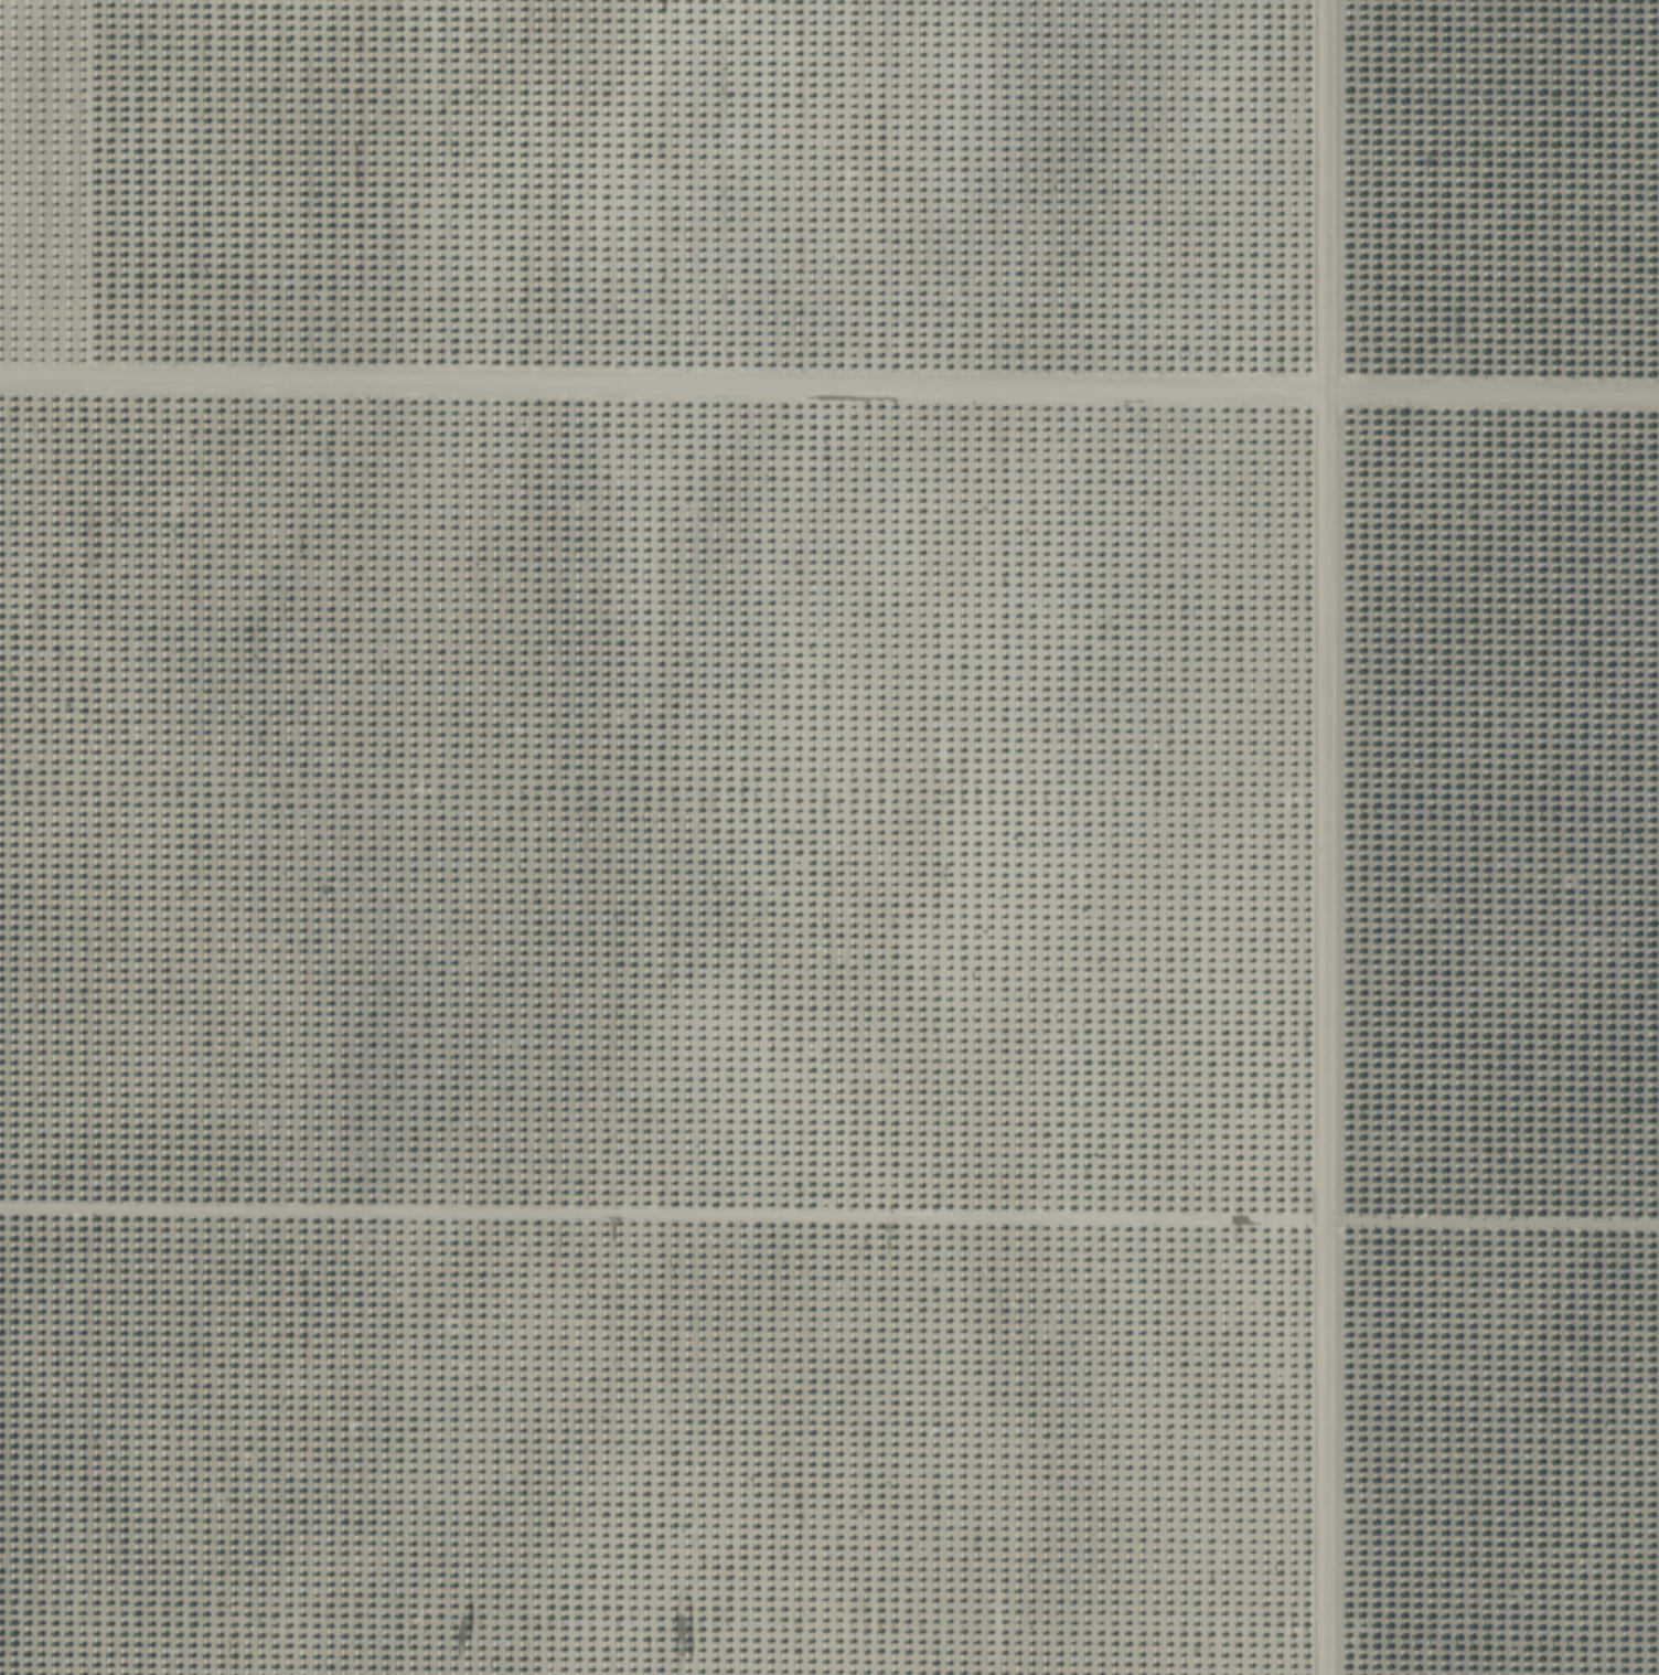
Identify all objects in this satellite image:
crop: (830, 837)
road: (1325, 837)

